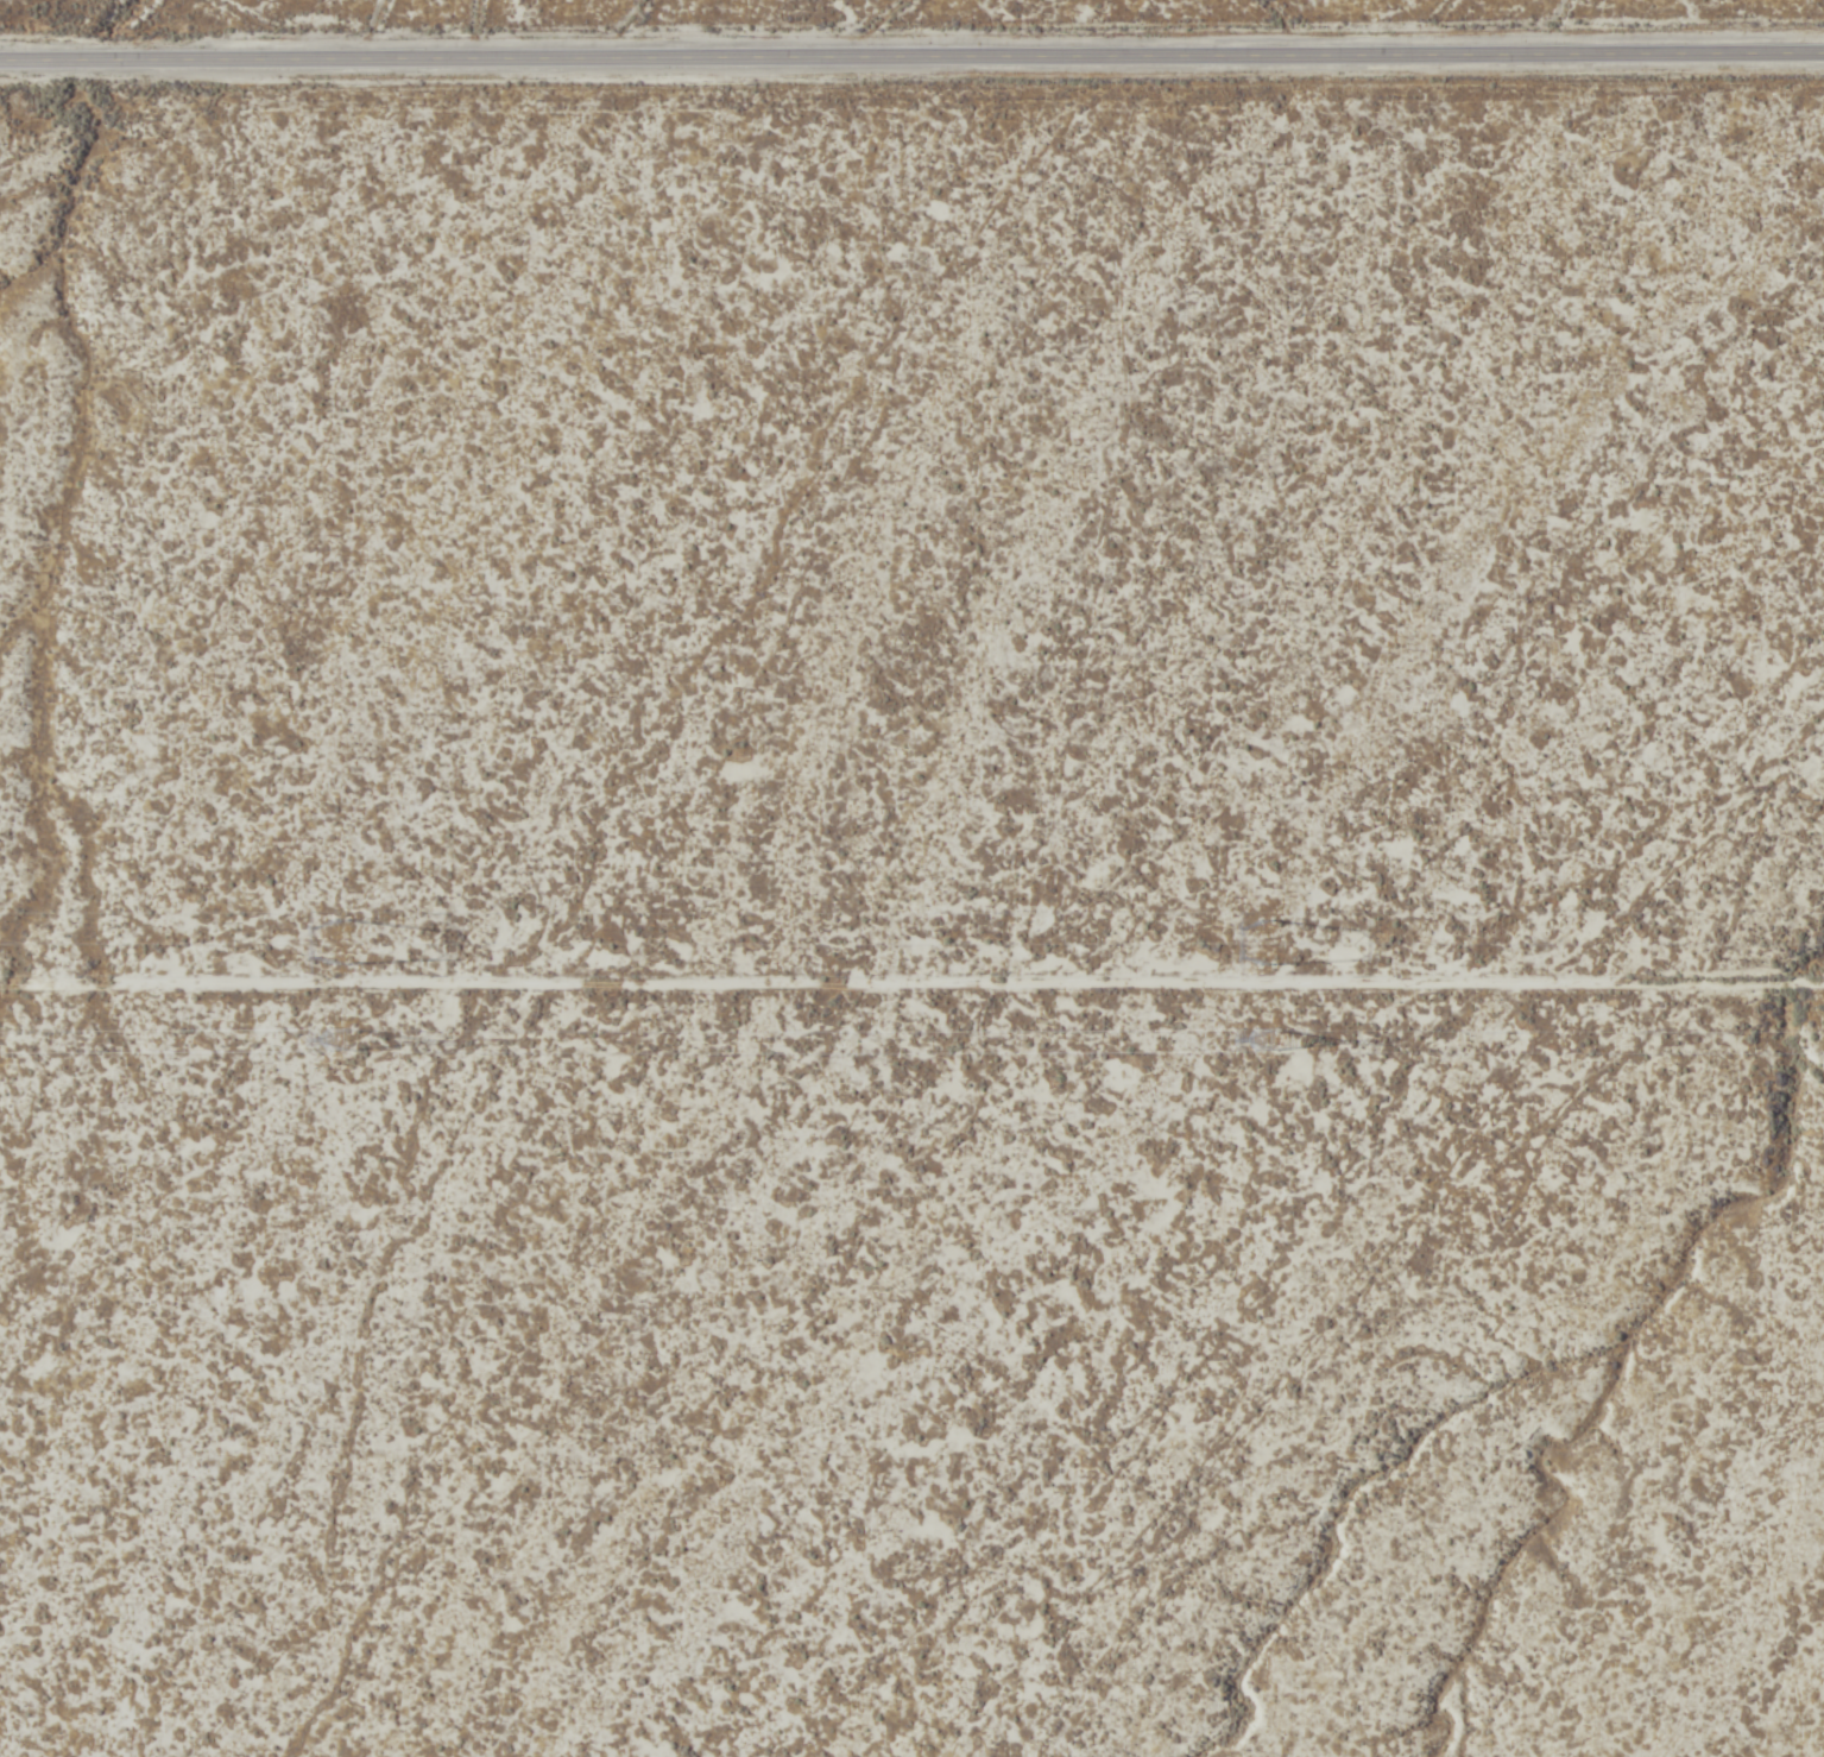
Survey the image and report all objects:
road: (911, 57)
power tower: (1286, 943)
power tower: (343, 949)
power tower: (351, 1041)
power tower: (1276, 1059)

